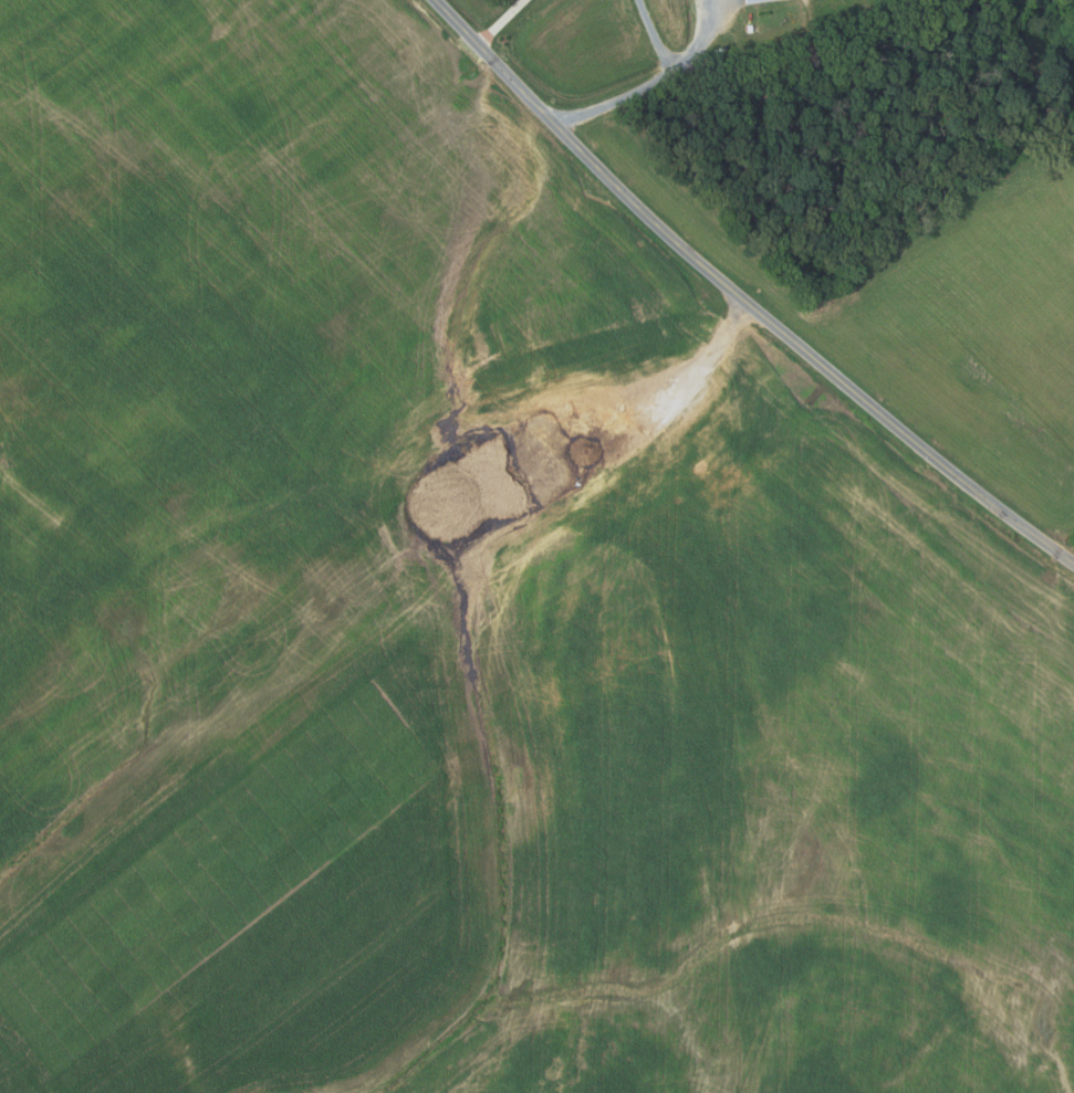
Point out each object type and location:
building: (891, 0)
building: (754, 1)
crop: (674, 20)
road: (501, 22)
building: (750, 30)
road: (657, 35)
road: (654, 82)
road: (741, 297)
crop: (938, 307)
road: (672, 387)
crop: (1072, 543)
crop: (468, 622)

